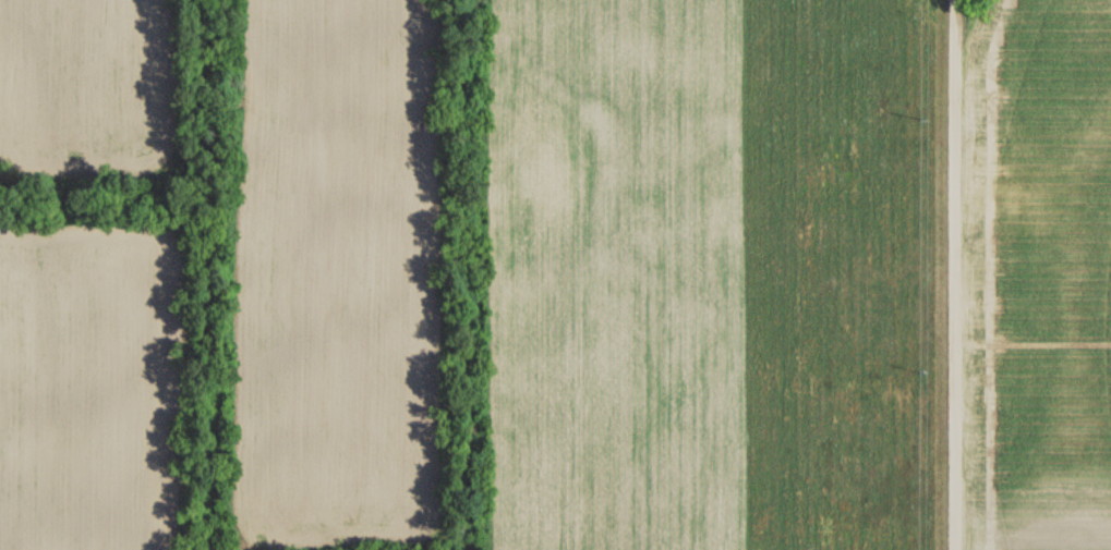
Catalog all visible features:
road: (961, 274)

